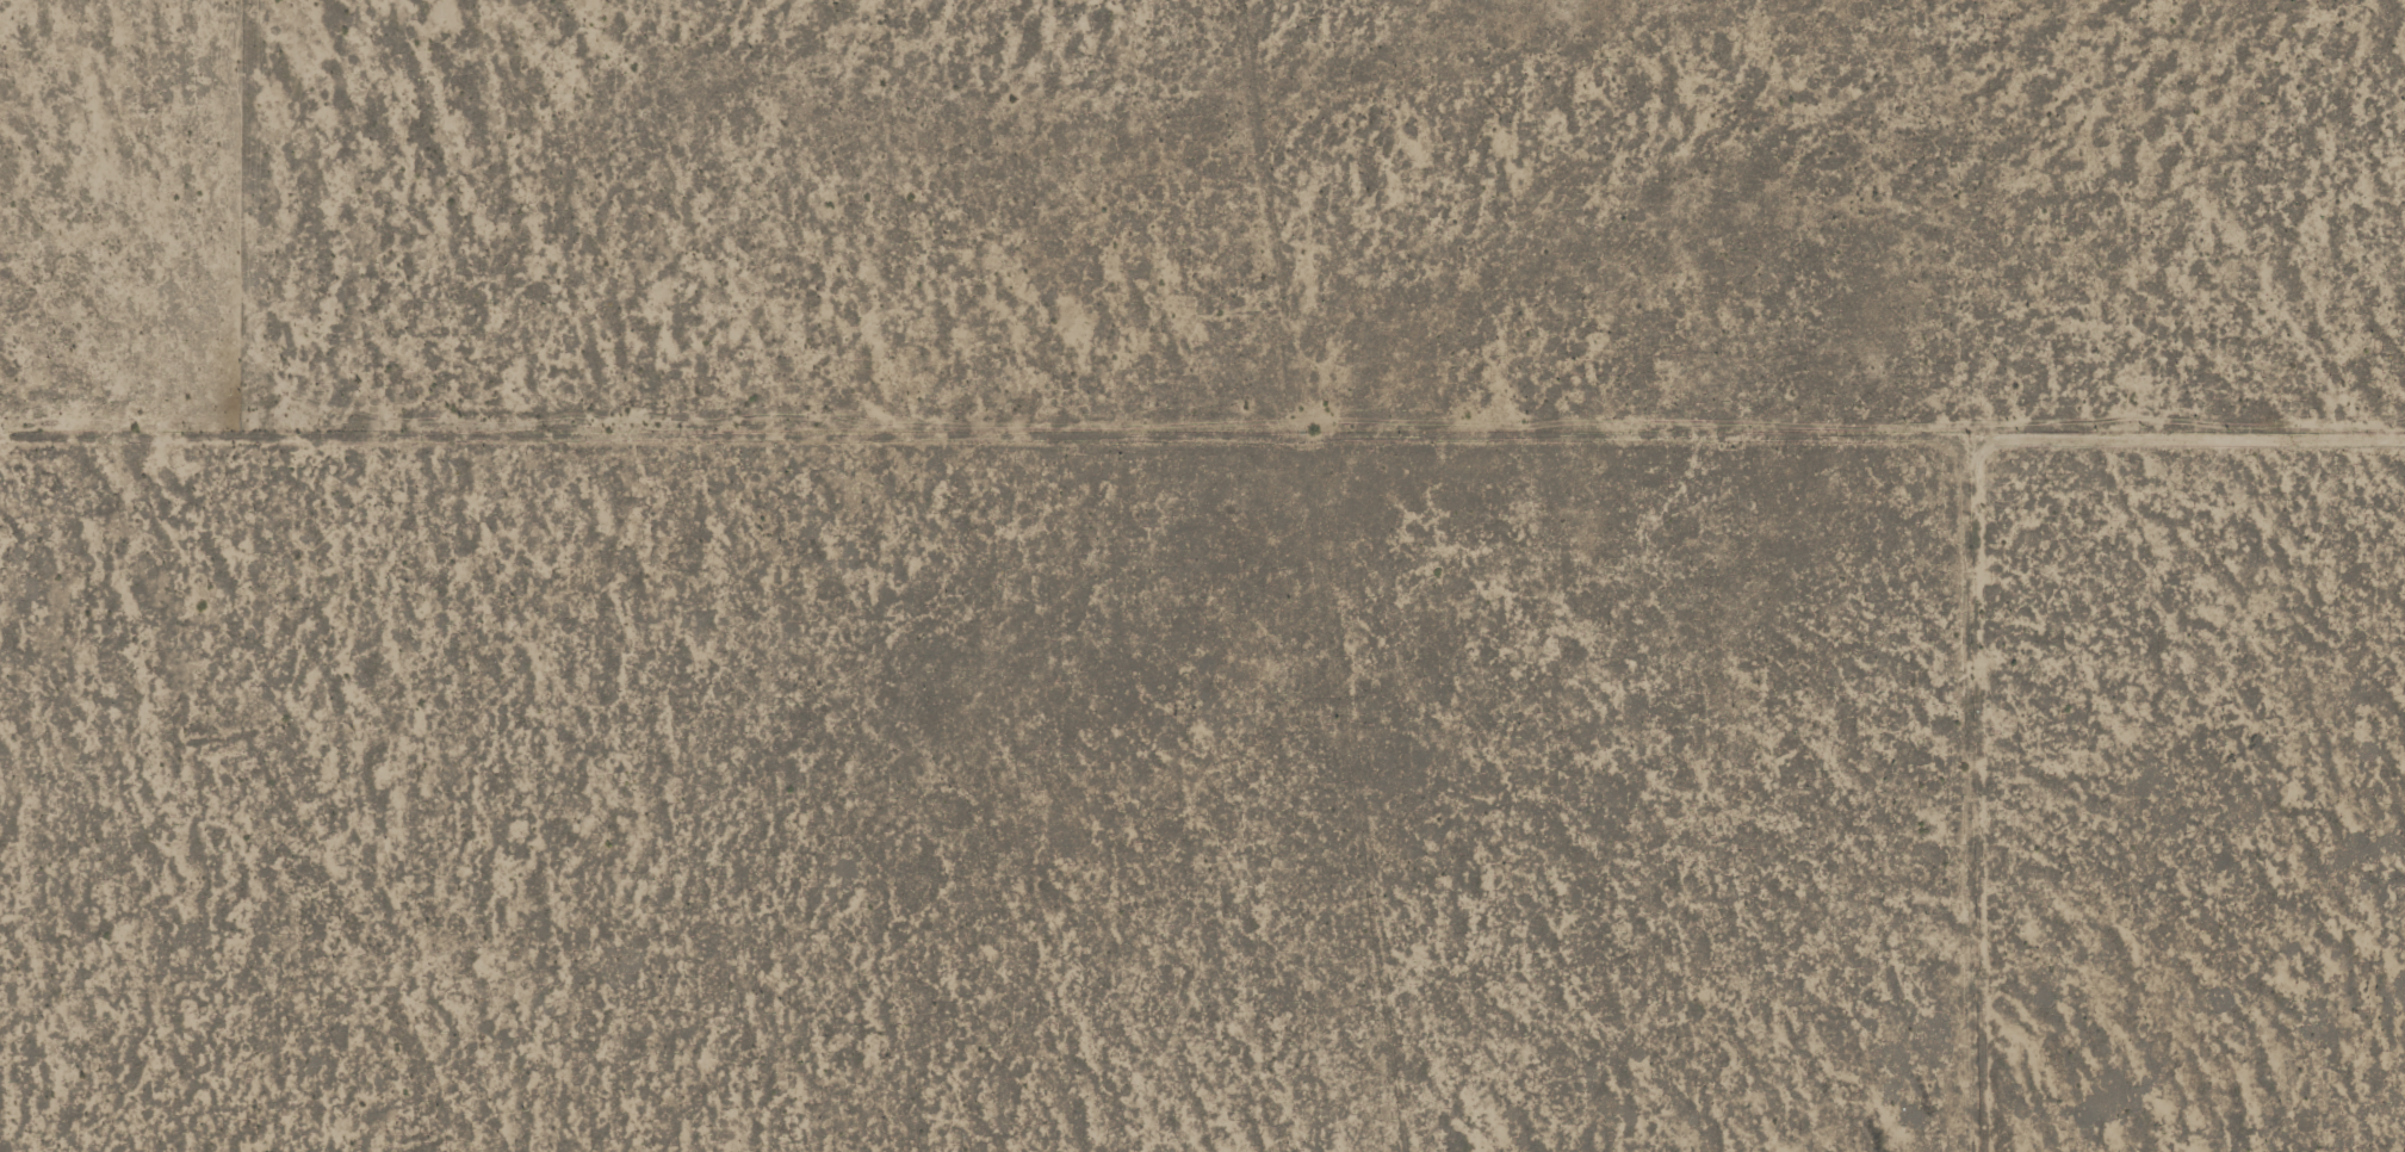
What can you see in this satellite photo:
road: (1202, 473)
road: (1307, 575)
road: (1933, 812)

